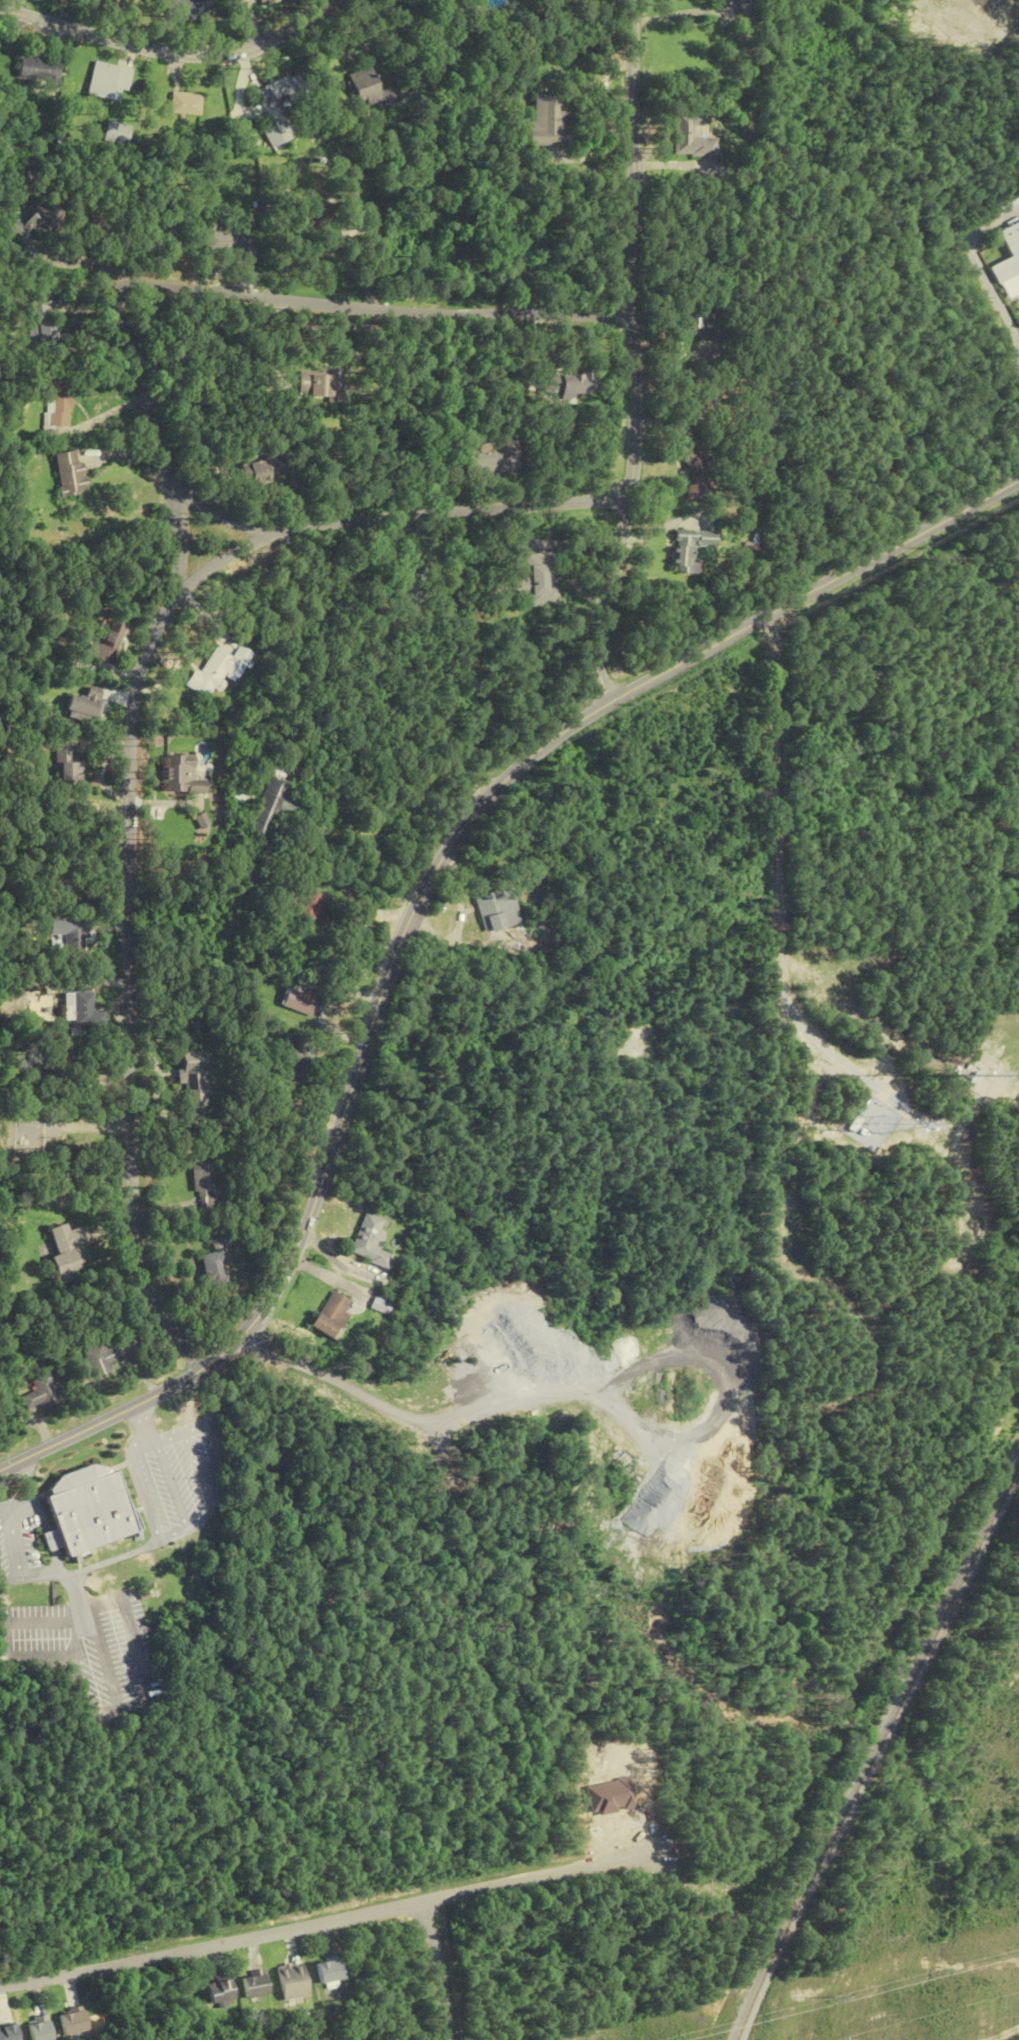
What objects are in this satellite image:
building: (265, 1)
building: (191, 10)
road: (250, 23)
road: (168, 53)
building: (40, 71)
building: (109, 82)
building: (371, 89)
building: (273, 90)
building: (189, 104)
building: (545, 120)
building: (279, 133)
building: (119, 134)
building: (693, 137)
building: (316, 214)
building: (35, 222)
building: (160, 234)
building: (226, 242)
road: (84, 262)
building: (1011, 262)
road: (979, 265)
road: (375, 301)
building: (694, 319)
building: (40, 329)
road: (633, 351)
building: (321, 384)
building: (568, 384)
building: (57, 405)
road: (161, 438)
building: (492, 457)
building: (692, 464)
building: (266, 469)
building: (71, 473)
road: (220, 516)
building: (753, 545)
building: (689, 548)
building: (541, 579)
building: (415, 592)
building: (108, 643)
building: (220, 670)
building: (85, 706)
road: (128, 748)
building: (67, 771)
building: (182, 775)
building: (276, 807)
building: (265, 880)
building: (312, 902)
road: (421, 905)
building: (501, 909)
building: (75, 939)
road: (774, 950)
building: (304, 999)
building: (82, 1008)
building: (302, 1061)
building: (197, 1079)
building: (207, 1188)
building: (373, 1242)
building: (64, 1251)
building: (218, 1269)
building: (382, 1306)
building: (335, 1317)
building: (96, 1357)
building: (39, 1392)
building: (88, 1509)
building: (50, 1541)
railway: (873, 1750)
road: (329, 1924)
building: (328, 1970)
road: (437, 1972)
building: (292, 1981)
building: (255, 1985)
building: (220, 1991)
building: (72, 2022)
building: (39, 2029)
building: (7, 2032)

